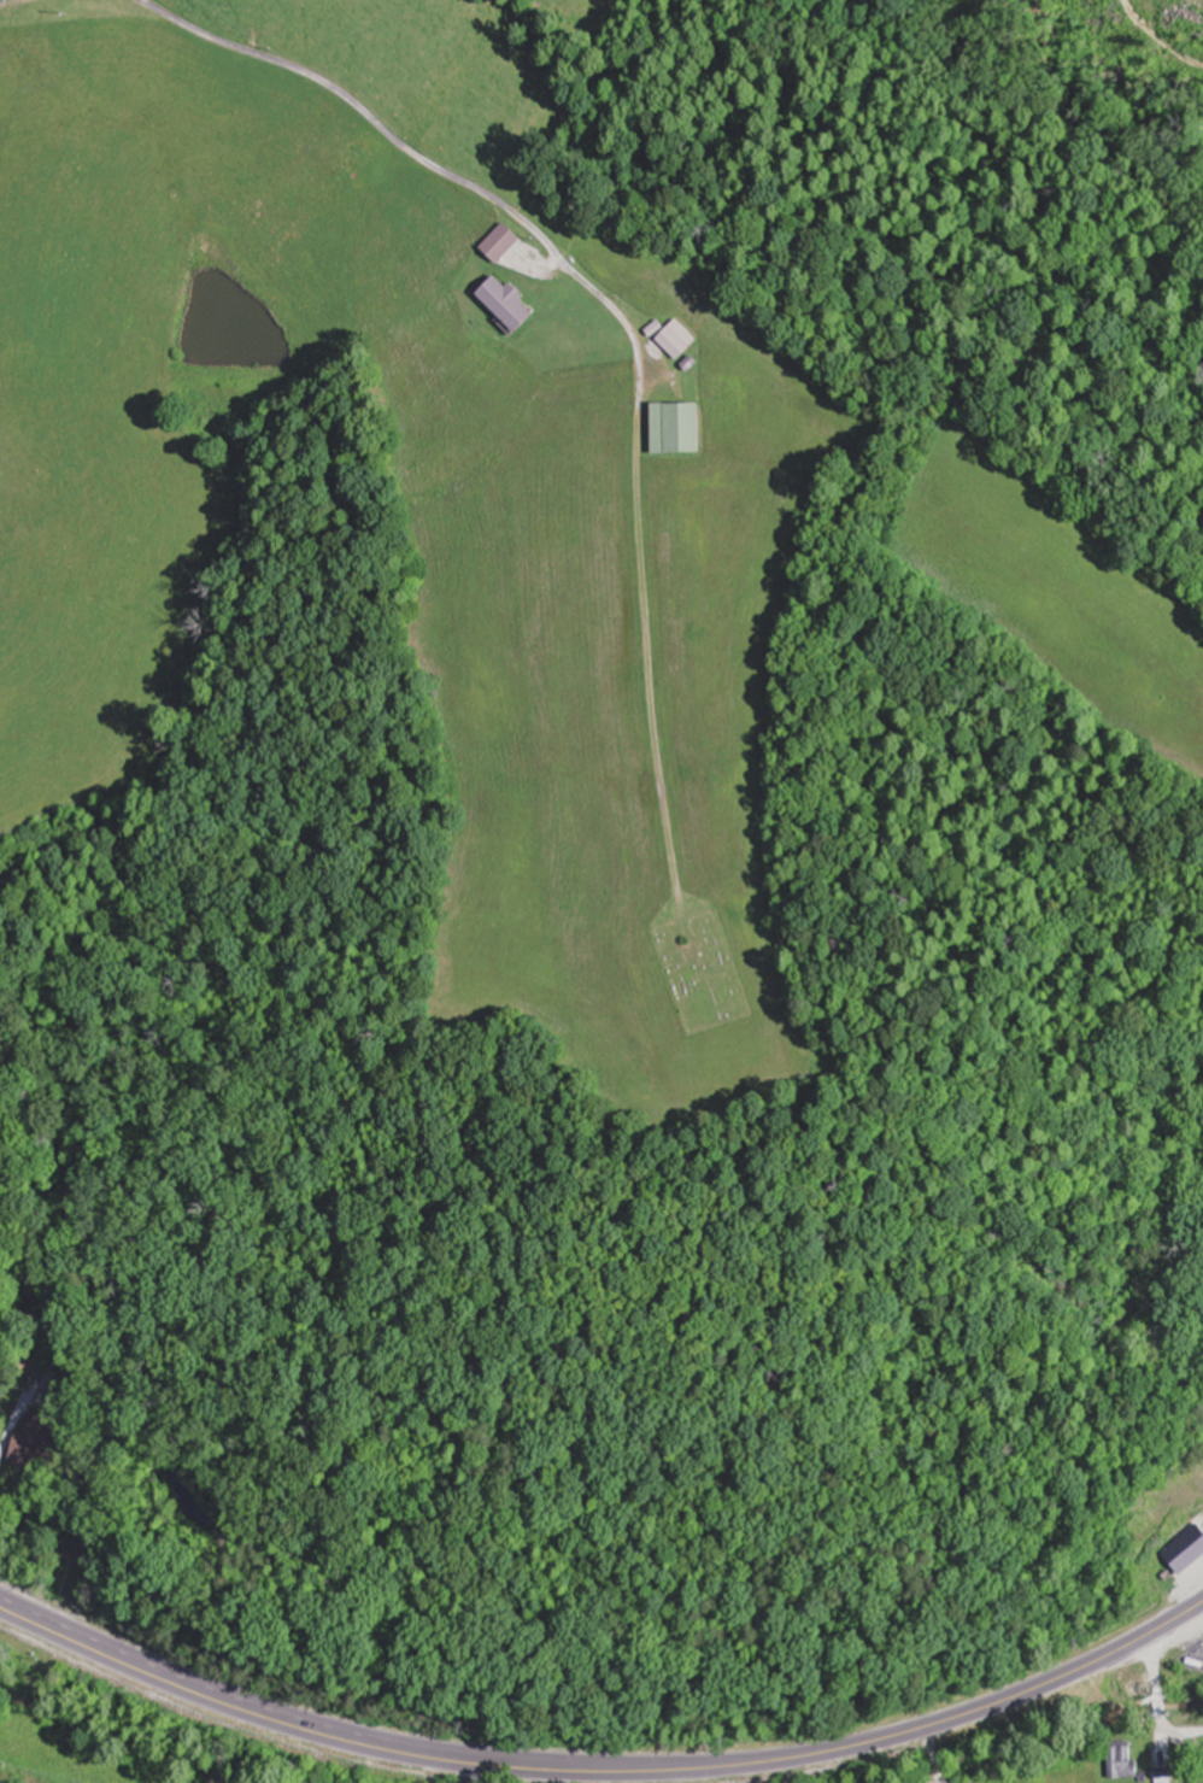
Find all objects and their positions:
building: (506, 242)
building: (512, 304)
road: (618, 315)
building: (681, 340)
building: (681, 429)
building: (36, 1439)
road: (1158, 1703)
building: (1123, 1760)
road: (603, 1771)
building: (1164, 1776)

